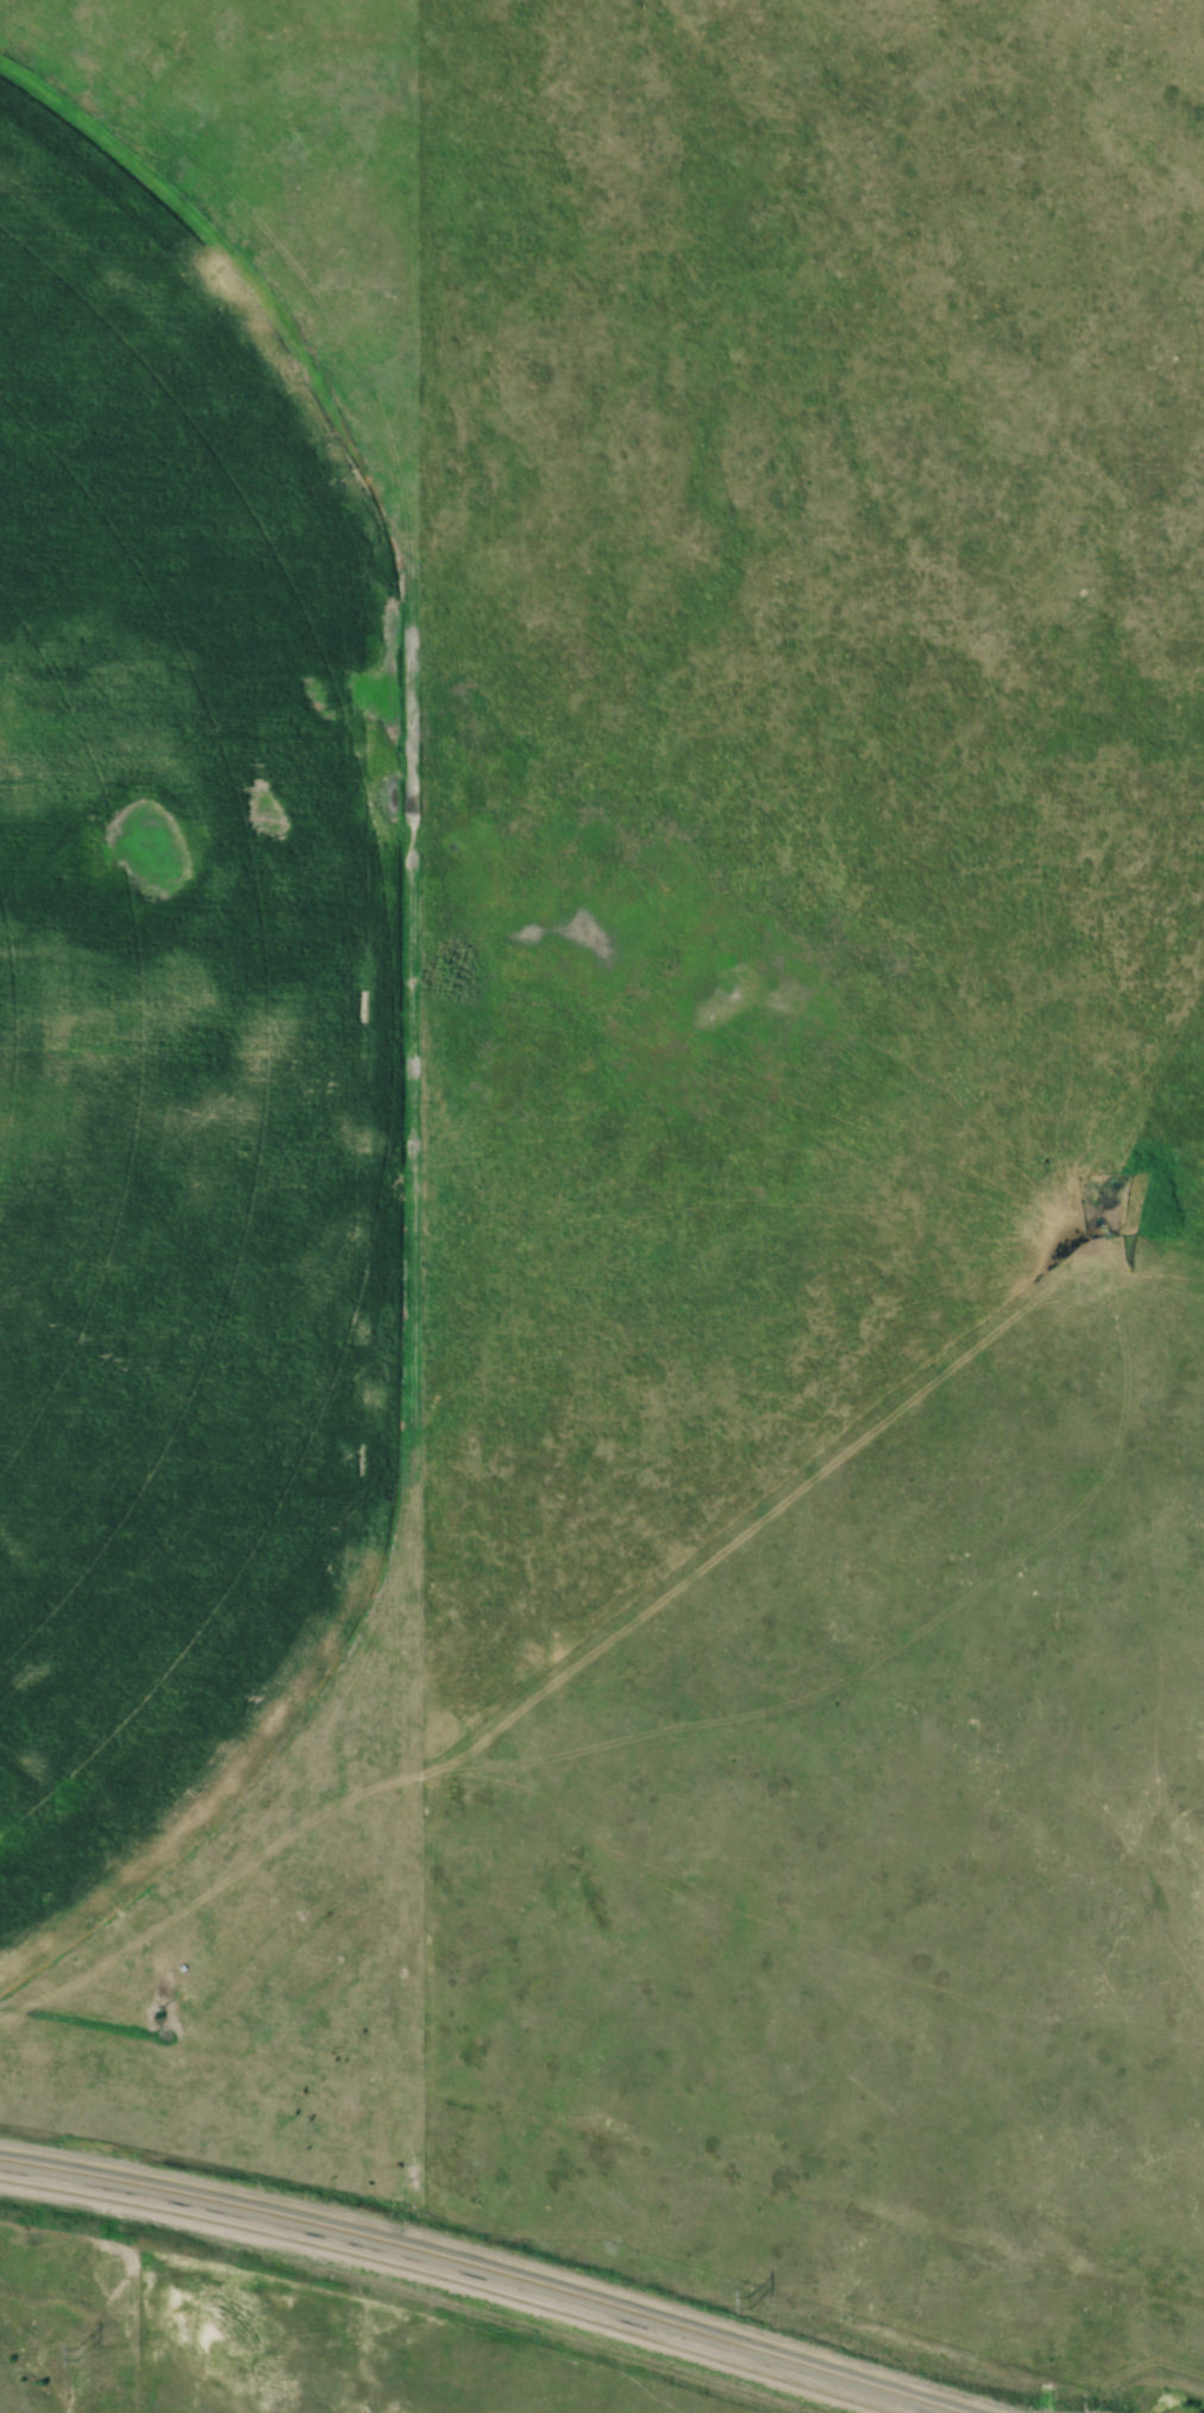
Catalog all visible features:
railway: (489, 2268)
railway: (459, 2281)
power tower: (744, 2301)
power tower: (69, 2354)

